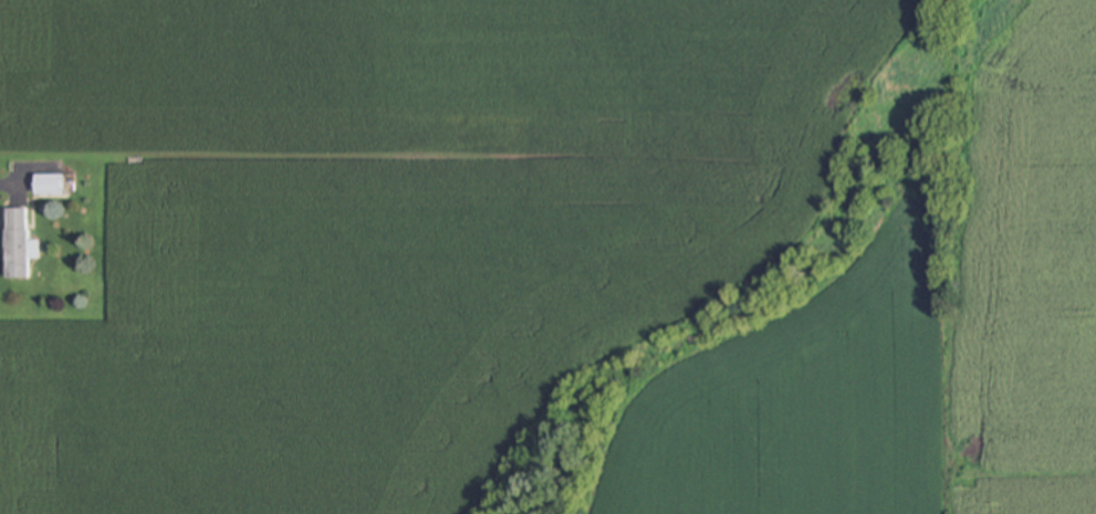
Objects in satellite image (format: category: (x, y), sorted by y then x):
building: (48, 185)
building: (15, 244)

